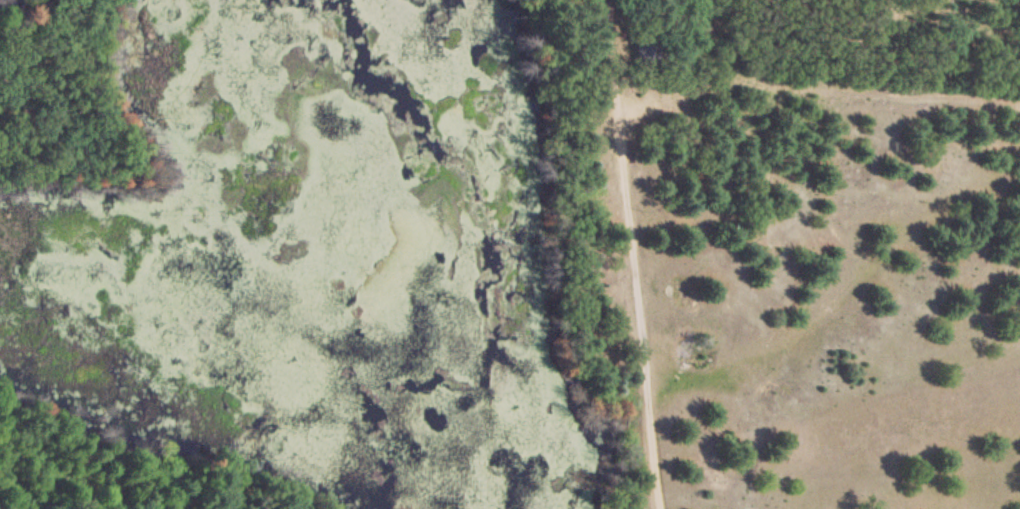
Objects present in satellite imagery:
road: (631, 254)

